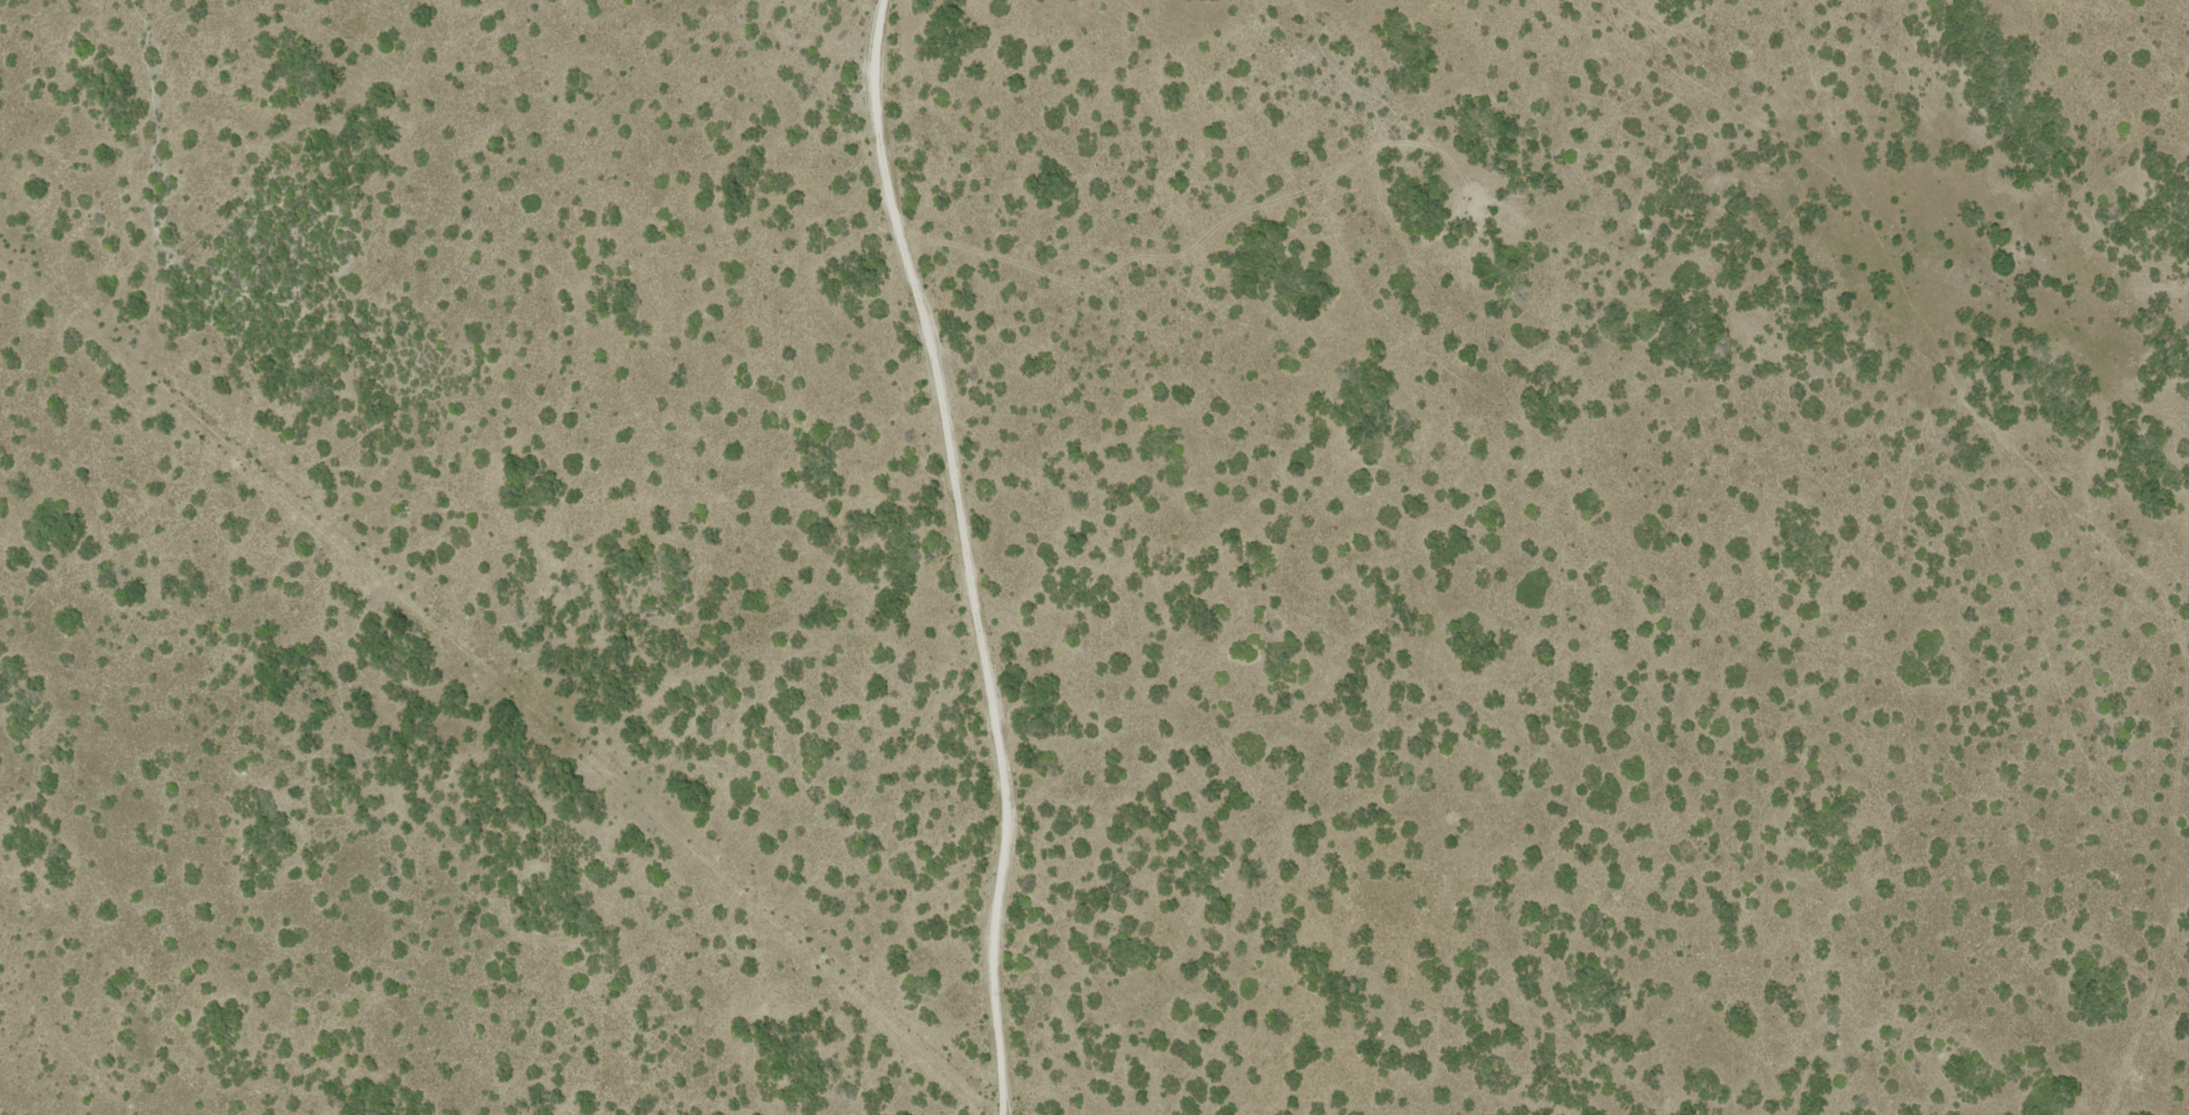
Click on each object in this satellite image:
road: (968, 552)

